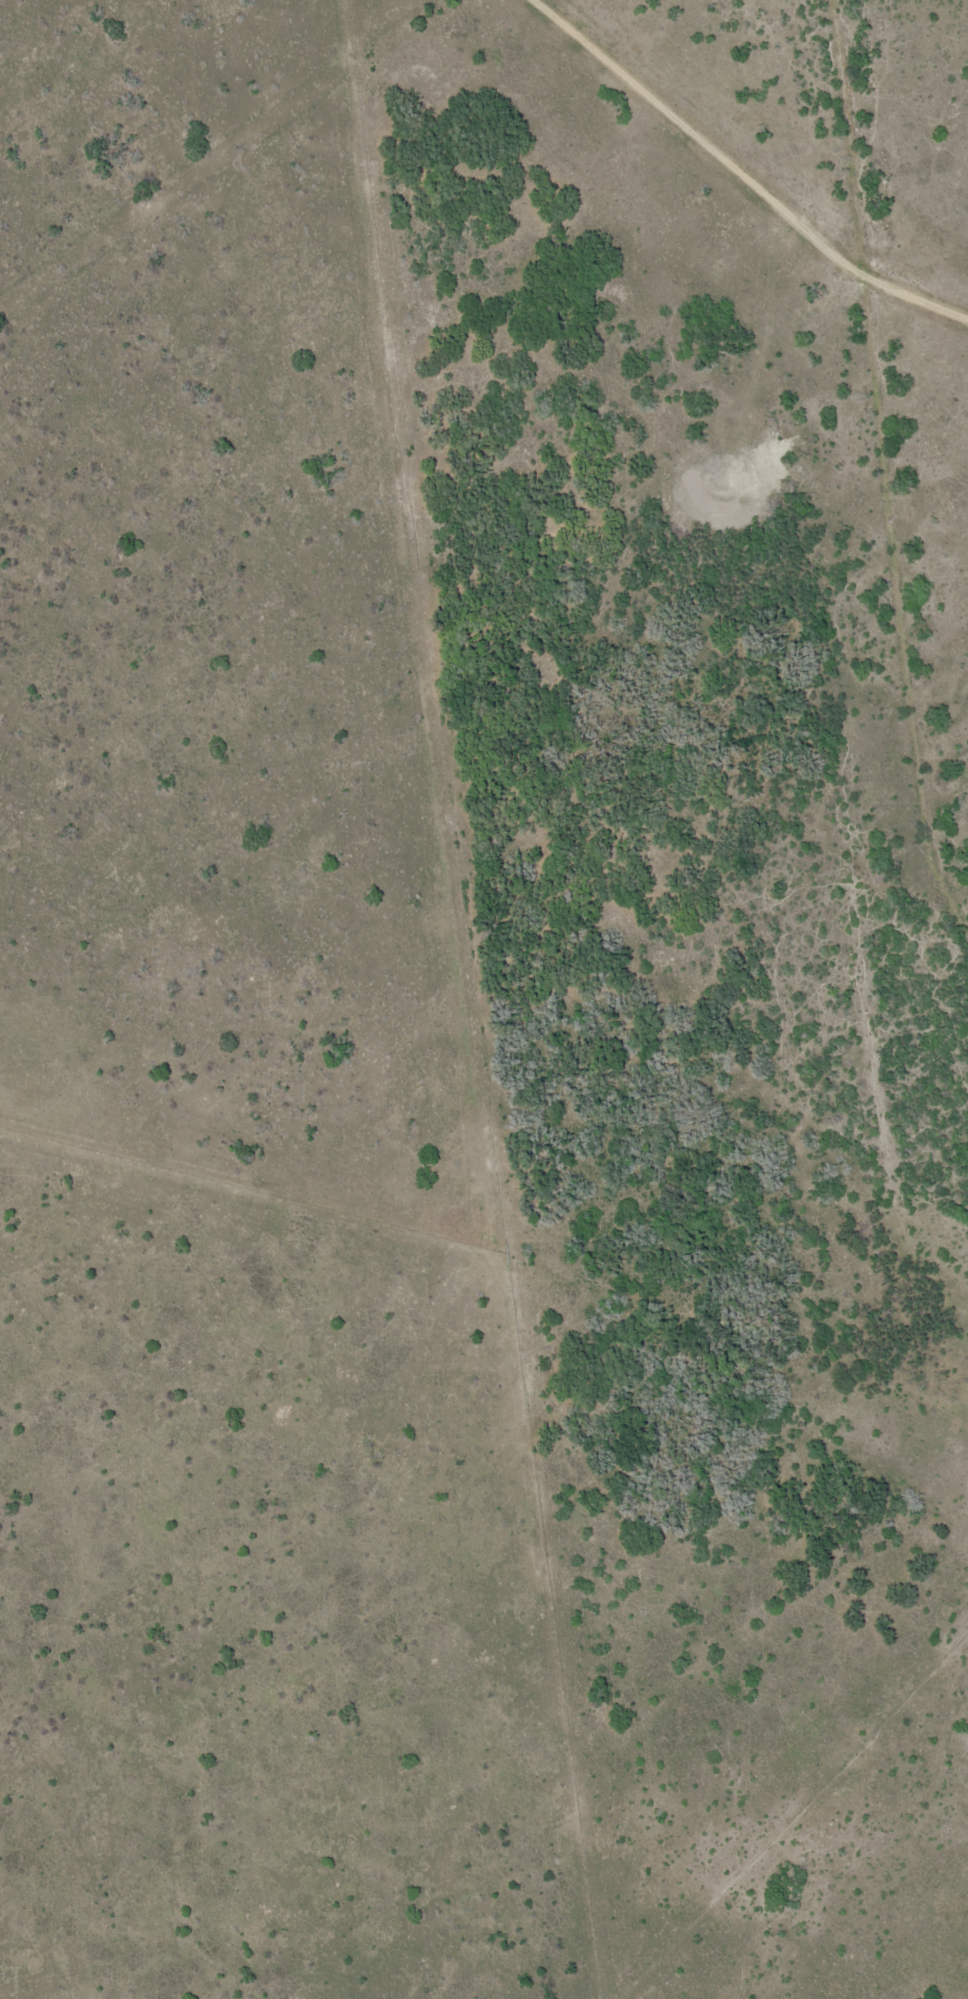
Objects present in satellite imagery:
road: (736, 177)

